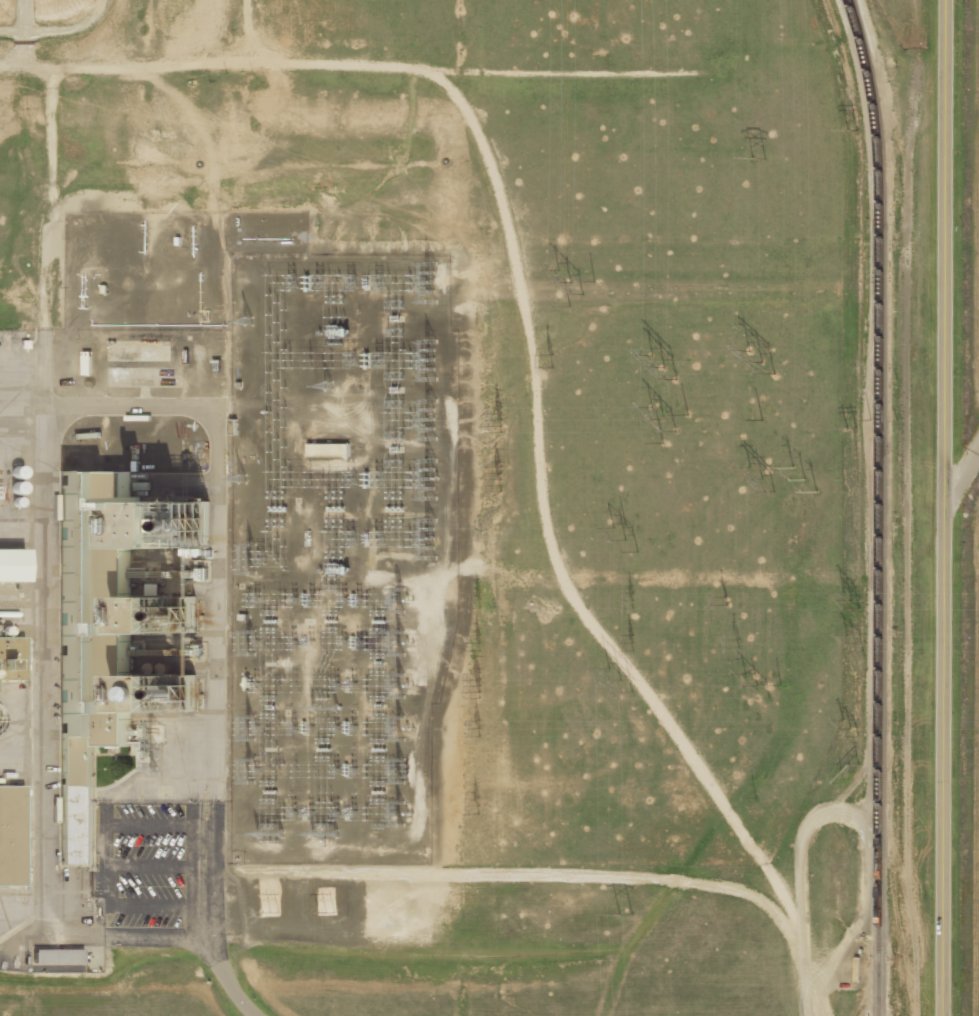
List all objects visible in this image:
power tower: (847, 132)
power tower: (752, 158)
power tower: (569, 281)
power tower: (660, 360)
power tower: (549, 361)
power tower: (753, 418)
power tower: (499, 422)
power tower: (846, 430)
power tower: (798, 479)
power tower: (756, 480)
building: (108, 481)
power tower: (496, 481)
railway: (874, 506)
road: (939, 507)
power plant: (461, 508)
building: (141, 521)
chimney: (204, 536)
power tower: (621, 537)
power substation: (336, 553)
building: (11, 564)
power tower: (627, 600)
power tower: (733, 600)
power tower: (476, 601)
power tower: (849, 601)
chimney: (195, 618)
power tower: (628, 643)
power tower: (475, 644)
power tower: (733, 644)
power tower: (849, 644)
power tower: (616, 682)
power tower: (474, 685)
power tower: (752, 686)
chimney: (191, 697)
power tower: (475, 728)
power tower: (844, 729)
power tower: (845, 773)
power tower: (473, 806)
building: (75, 808)
building: (11, 836)
power tower: (264, 912)
power tower: (320, 913)
power tower: (620, 914)
building: (57, 956)
road: (220, 976)

